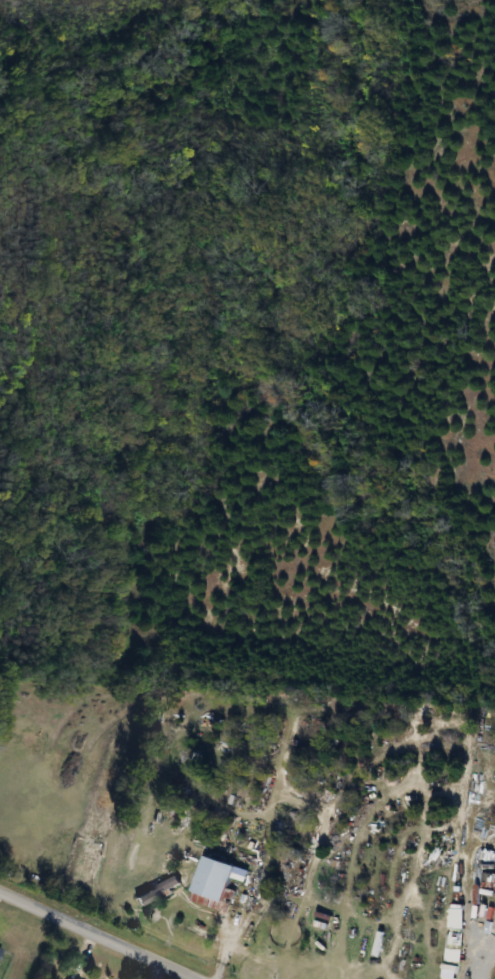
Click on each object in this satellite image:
building: (212, 883)
building: (156, 890)
road: (96, 934)
building: (1, 949)
building: (68, 978)

